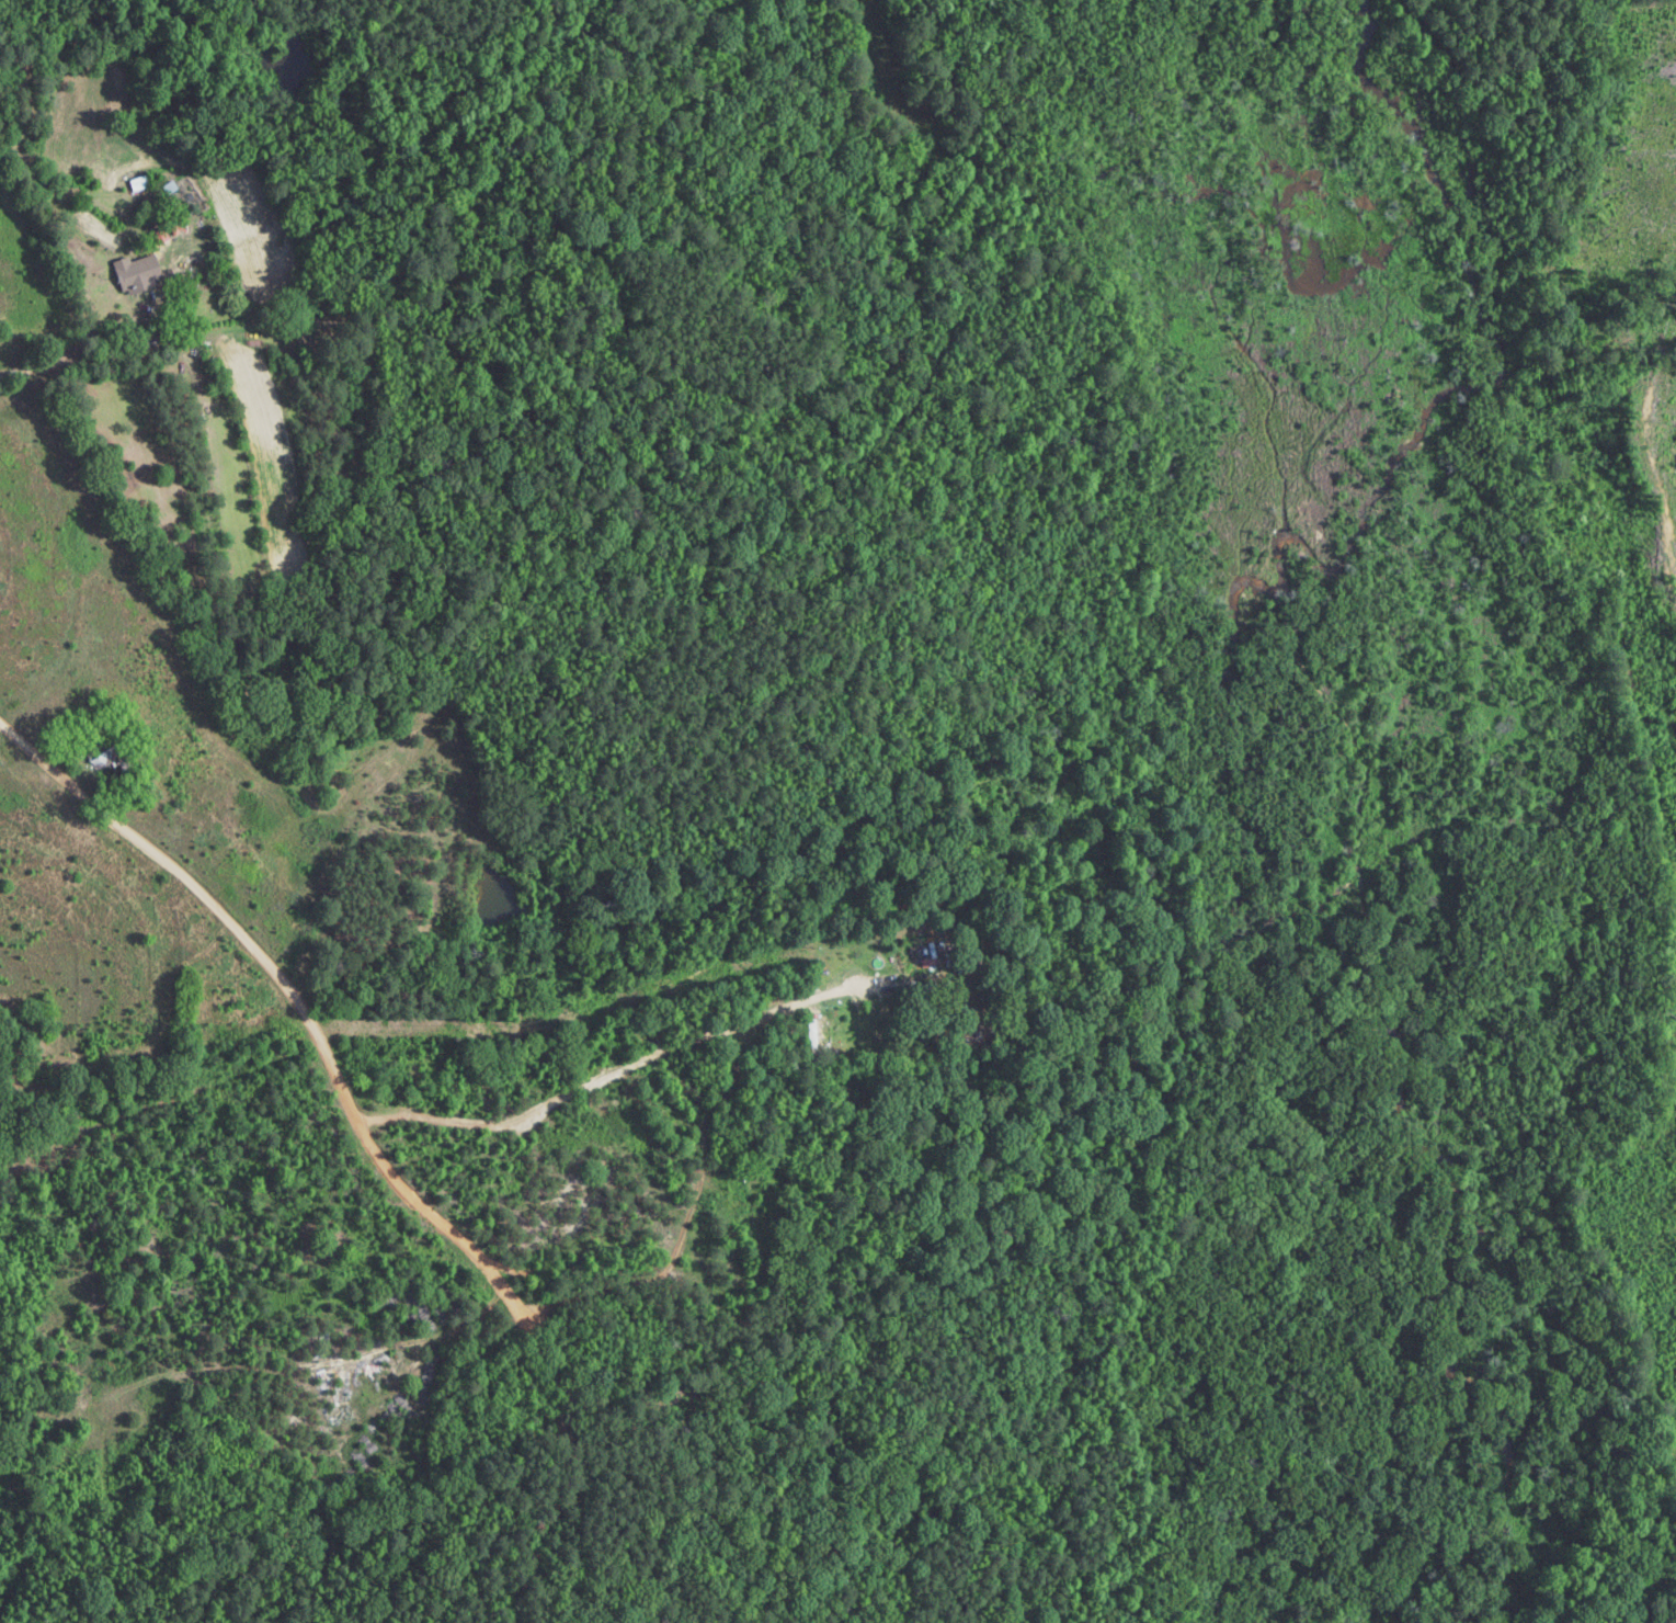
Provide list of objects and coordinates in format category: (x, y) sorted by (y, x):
building: (142, 185)
building: (146, 275)
road: (142, 349)
building: (820, 1033)
road: (435, 1218)

